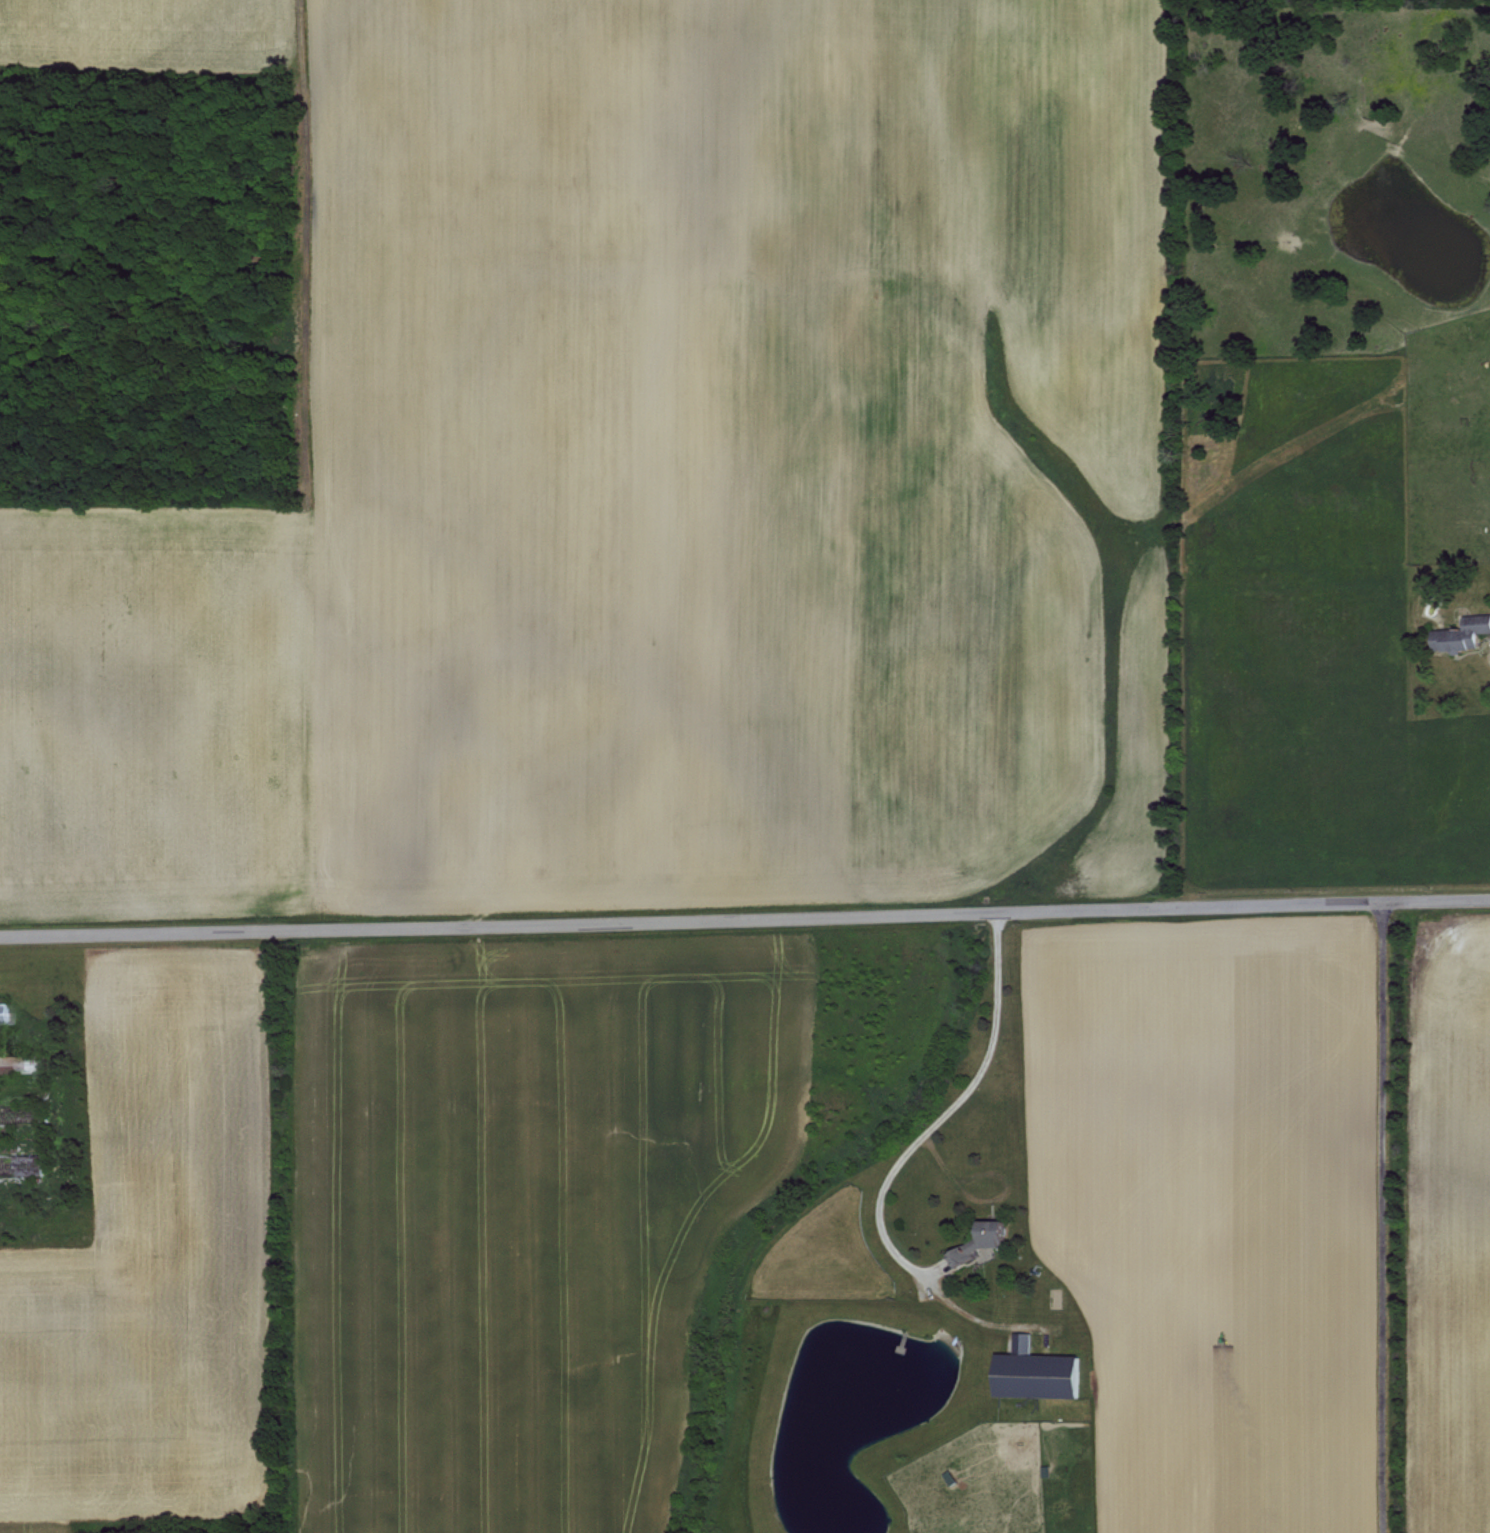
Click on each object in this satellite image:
building: (1458, 633)
road: (1487, 646)
road: (745, 920)
building: (4, 1011)
building: (19, 1062)
road: (919, 1136)
road: (1381, 1217)
building: (978, 1239)
building: (1030, 1370)

